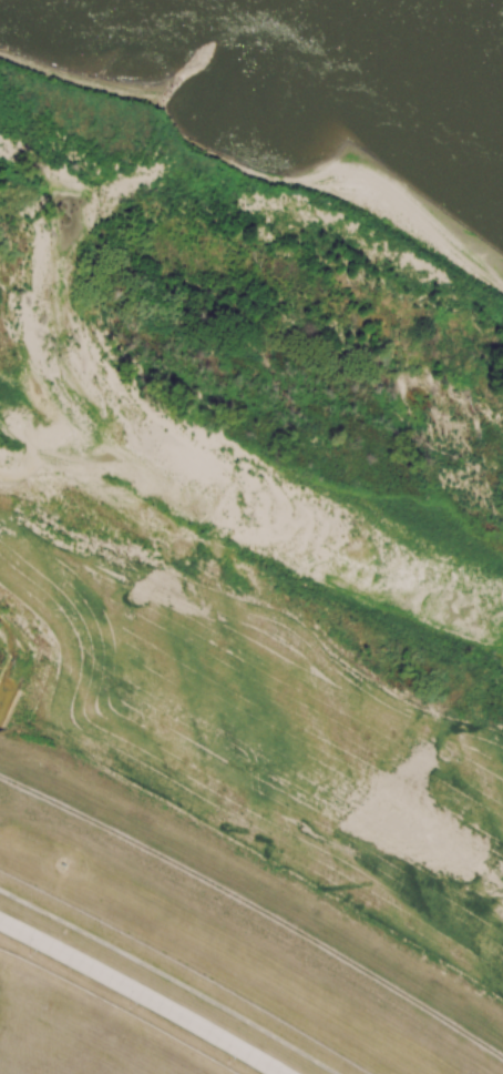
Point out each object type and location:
road: (141, 995)
airport: (123, 1005)

